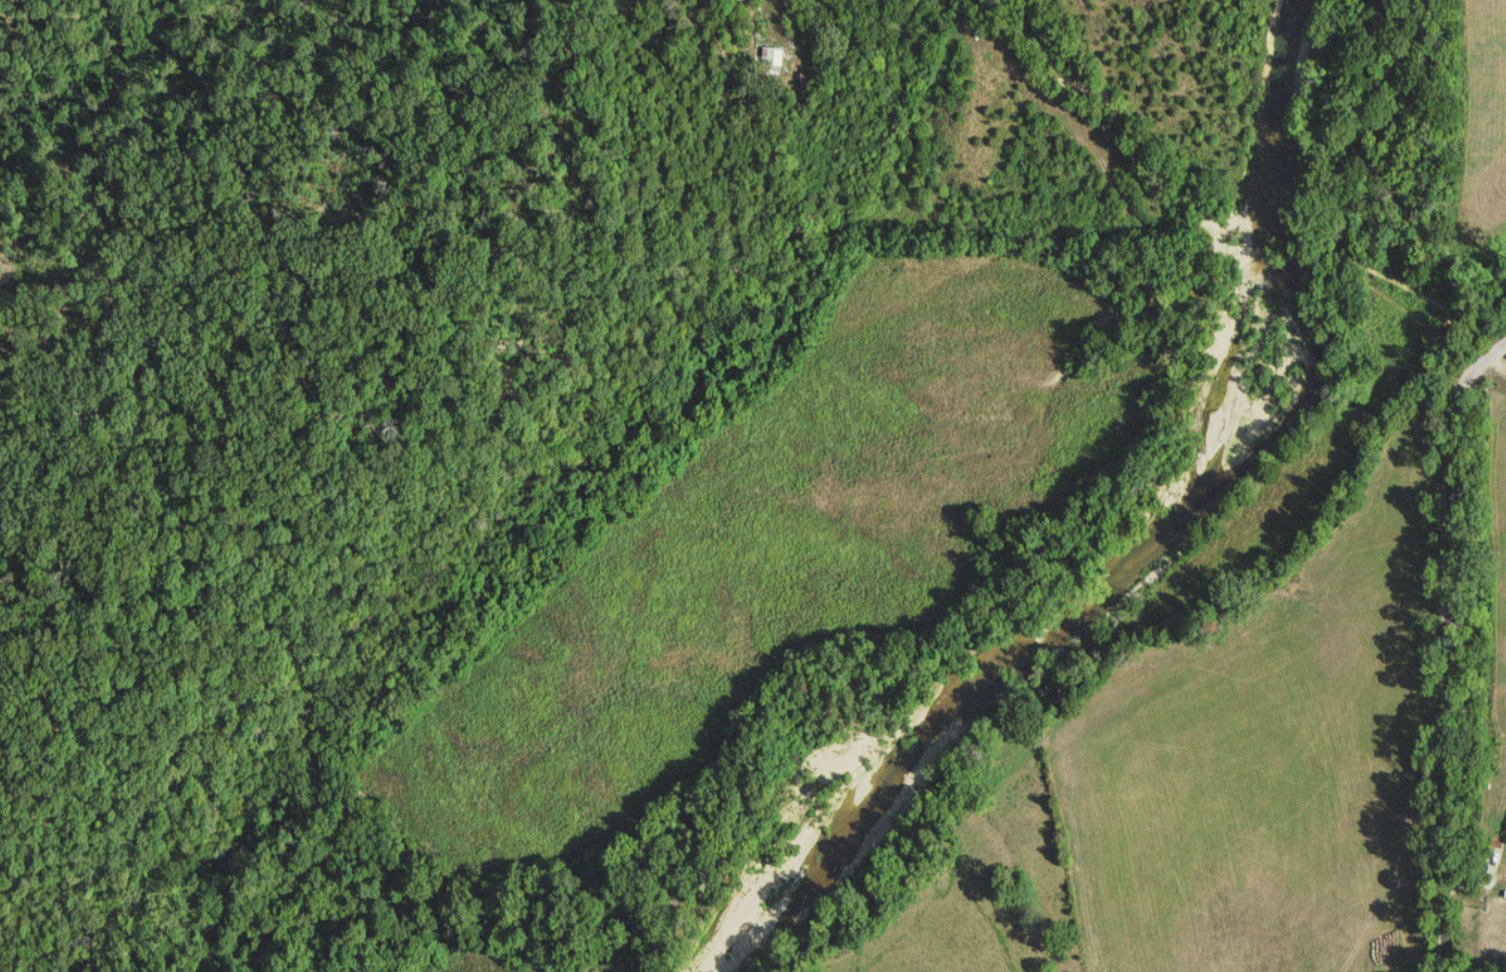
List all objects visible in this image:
road: (850, 3)
building: (775, 57)
road: (1093, 102)
road: (1250, 251)
road: (1397, 280)
river: (1119, 562)
road: (1450, 647)

